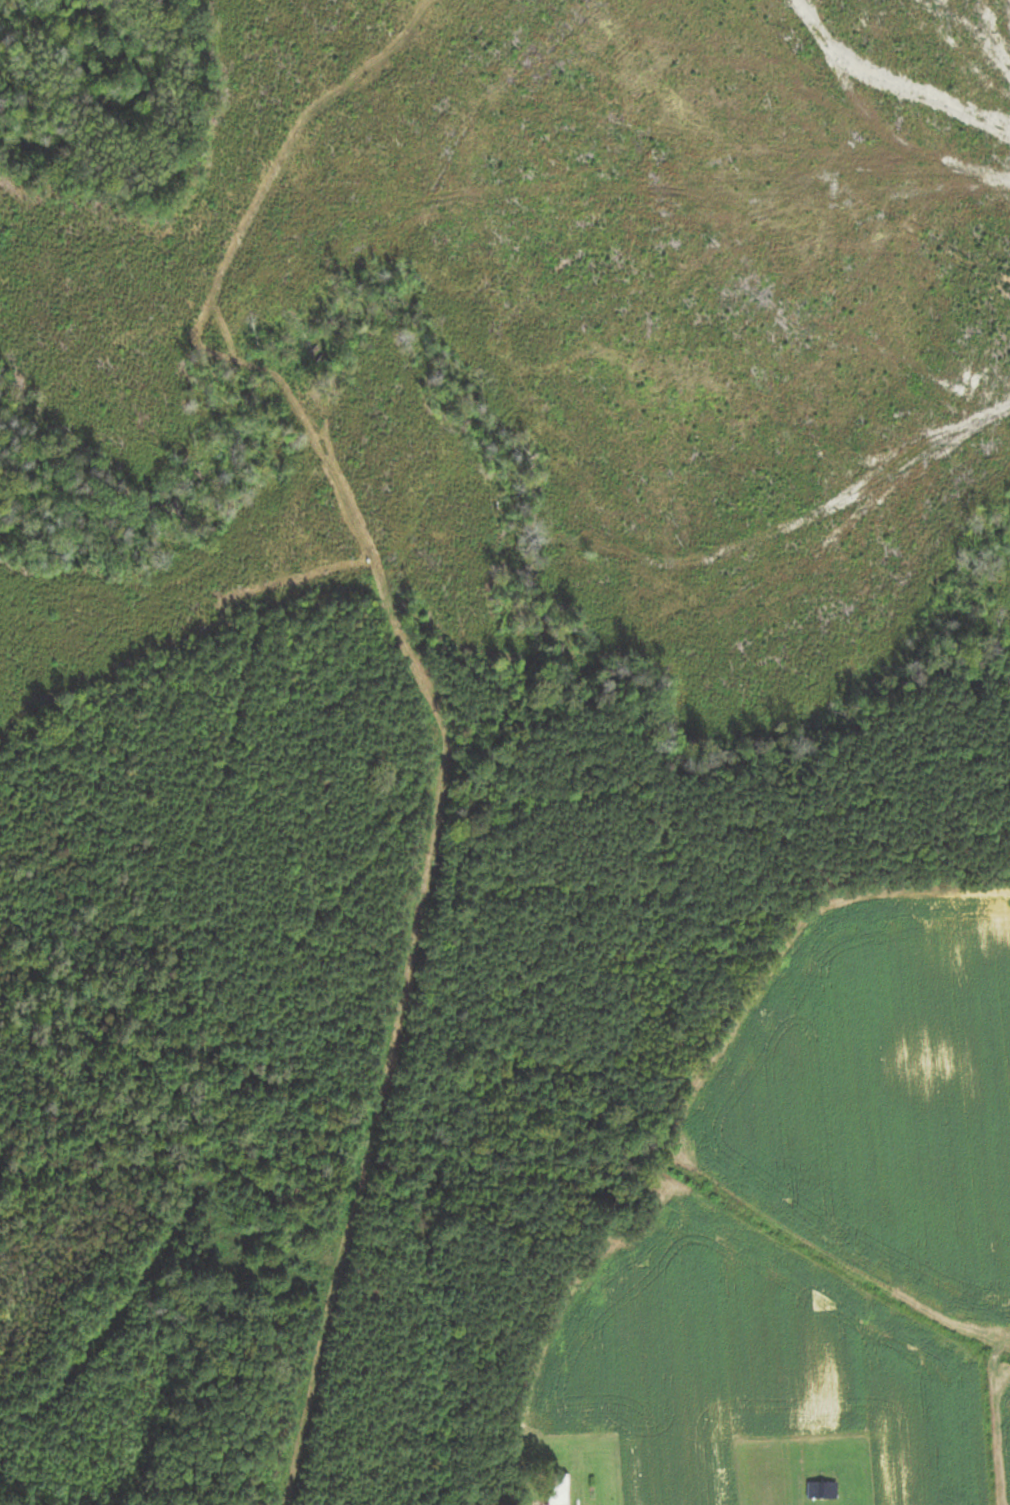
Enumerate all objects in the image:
building: (554, 1490)
building: (821, 1491)

